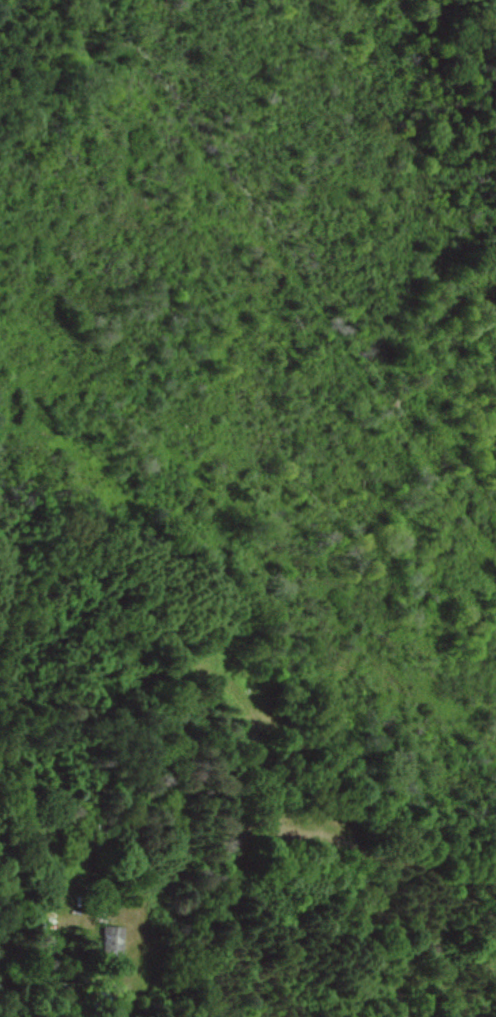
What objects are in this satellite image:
building: (112, 939)

